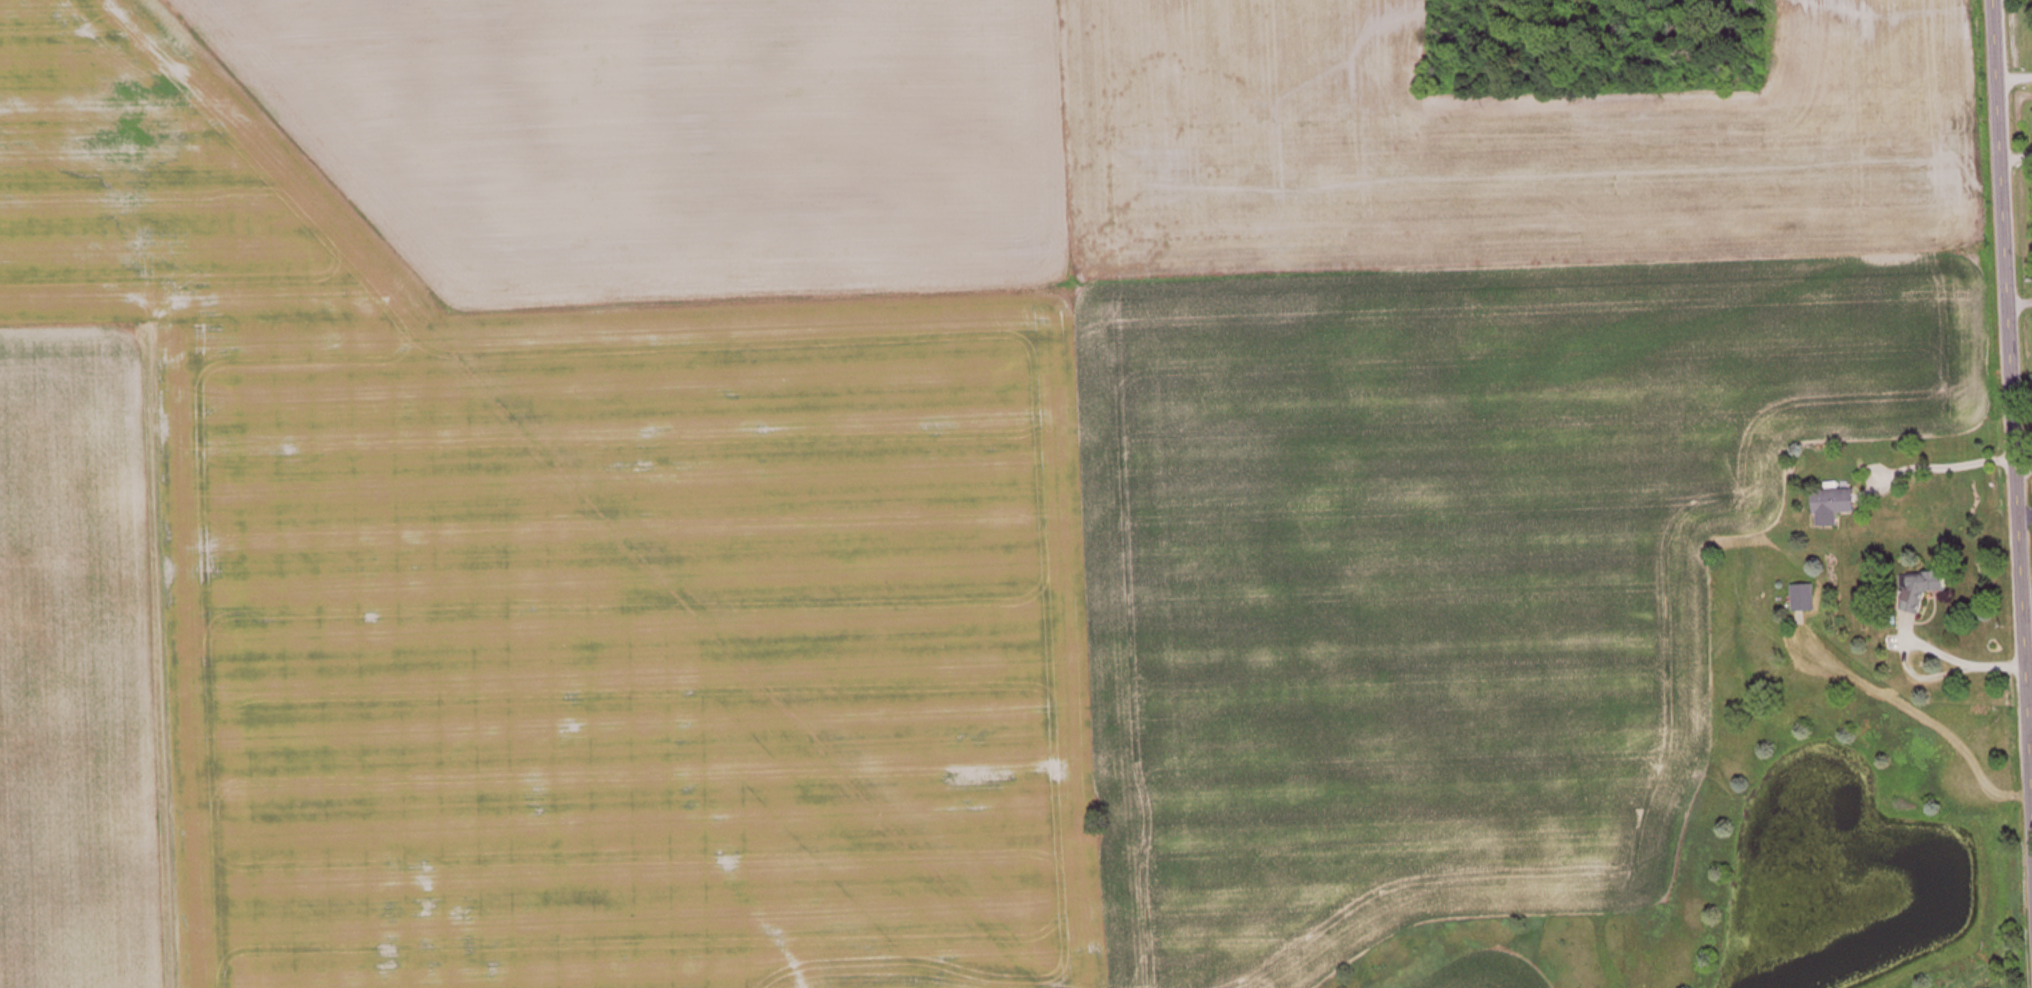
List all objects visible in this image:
road: (2014, 222)
road: (2007, 366)
building: (1836, 502)
building: (1925, 588)
road: (1957, 661)

